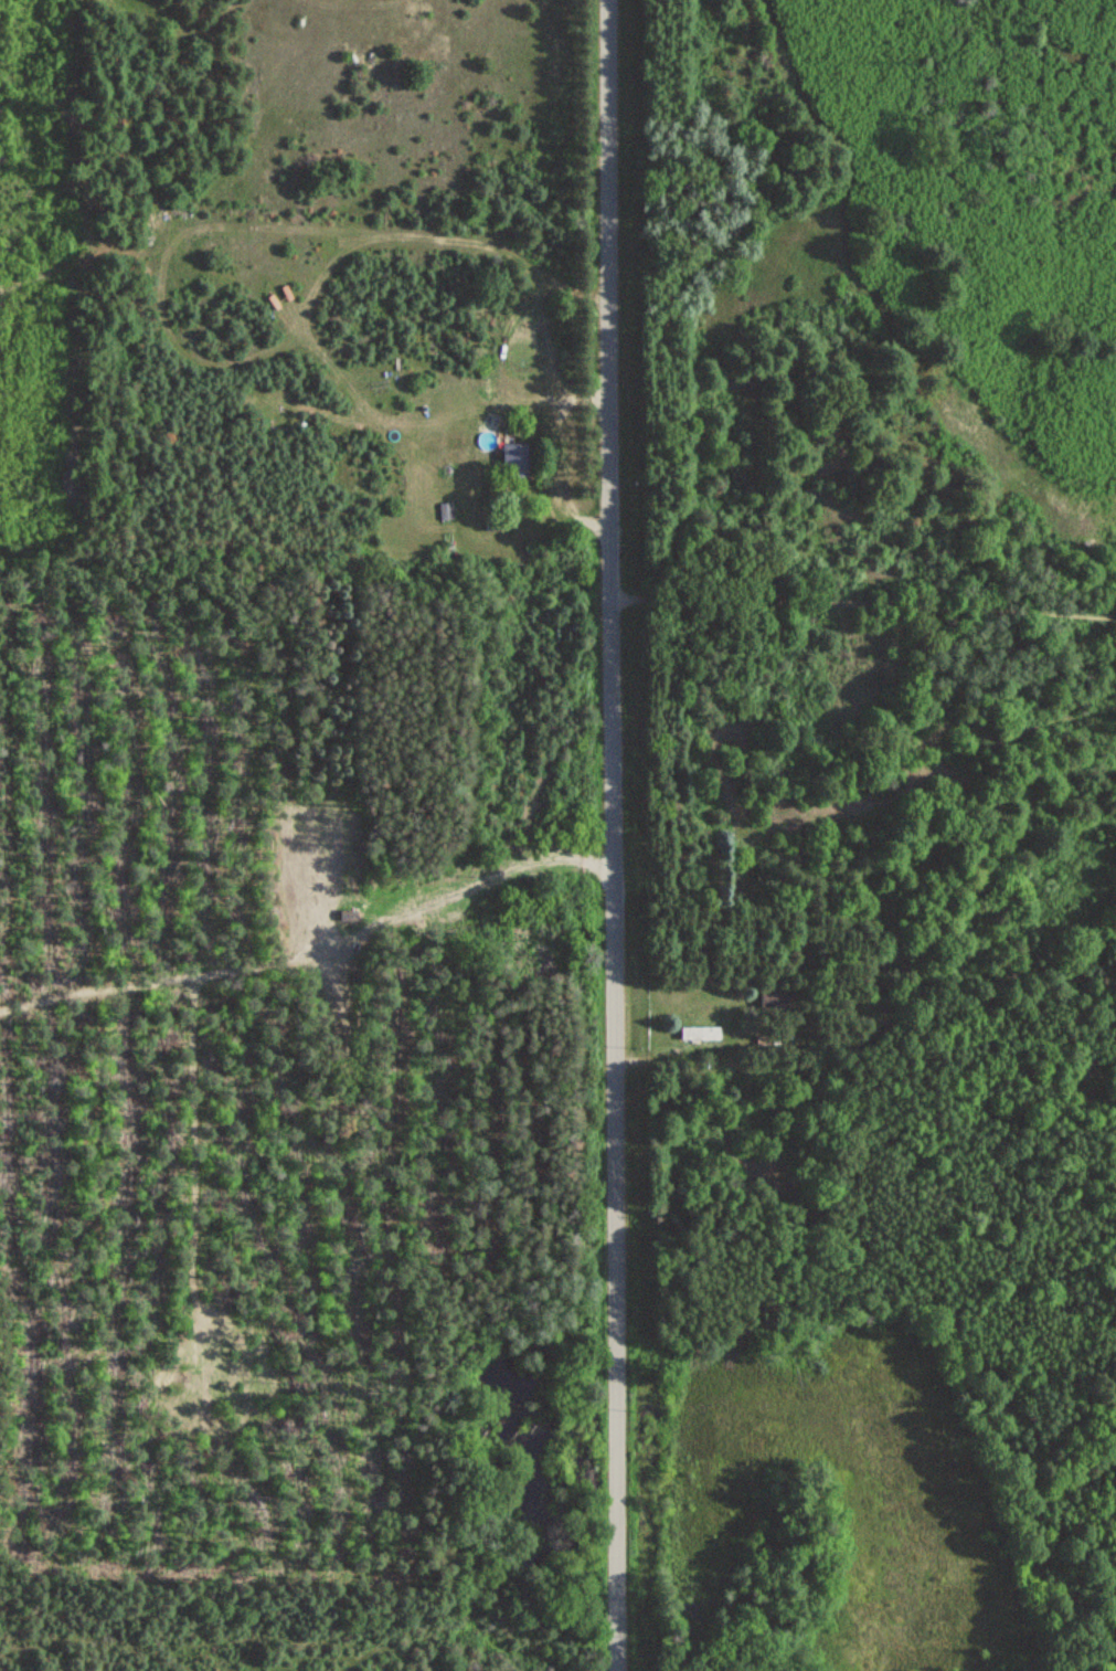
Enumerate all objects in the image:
building: (512, 462)
building: (499, 521)
road: (863, 609)
road: (612, 835)
building: (698, 1034)

